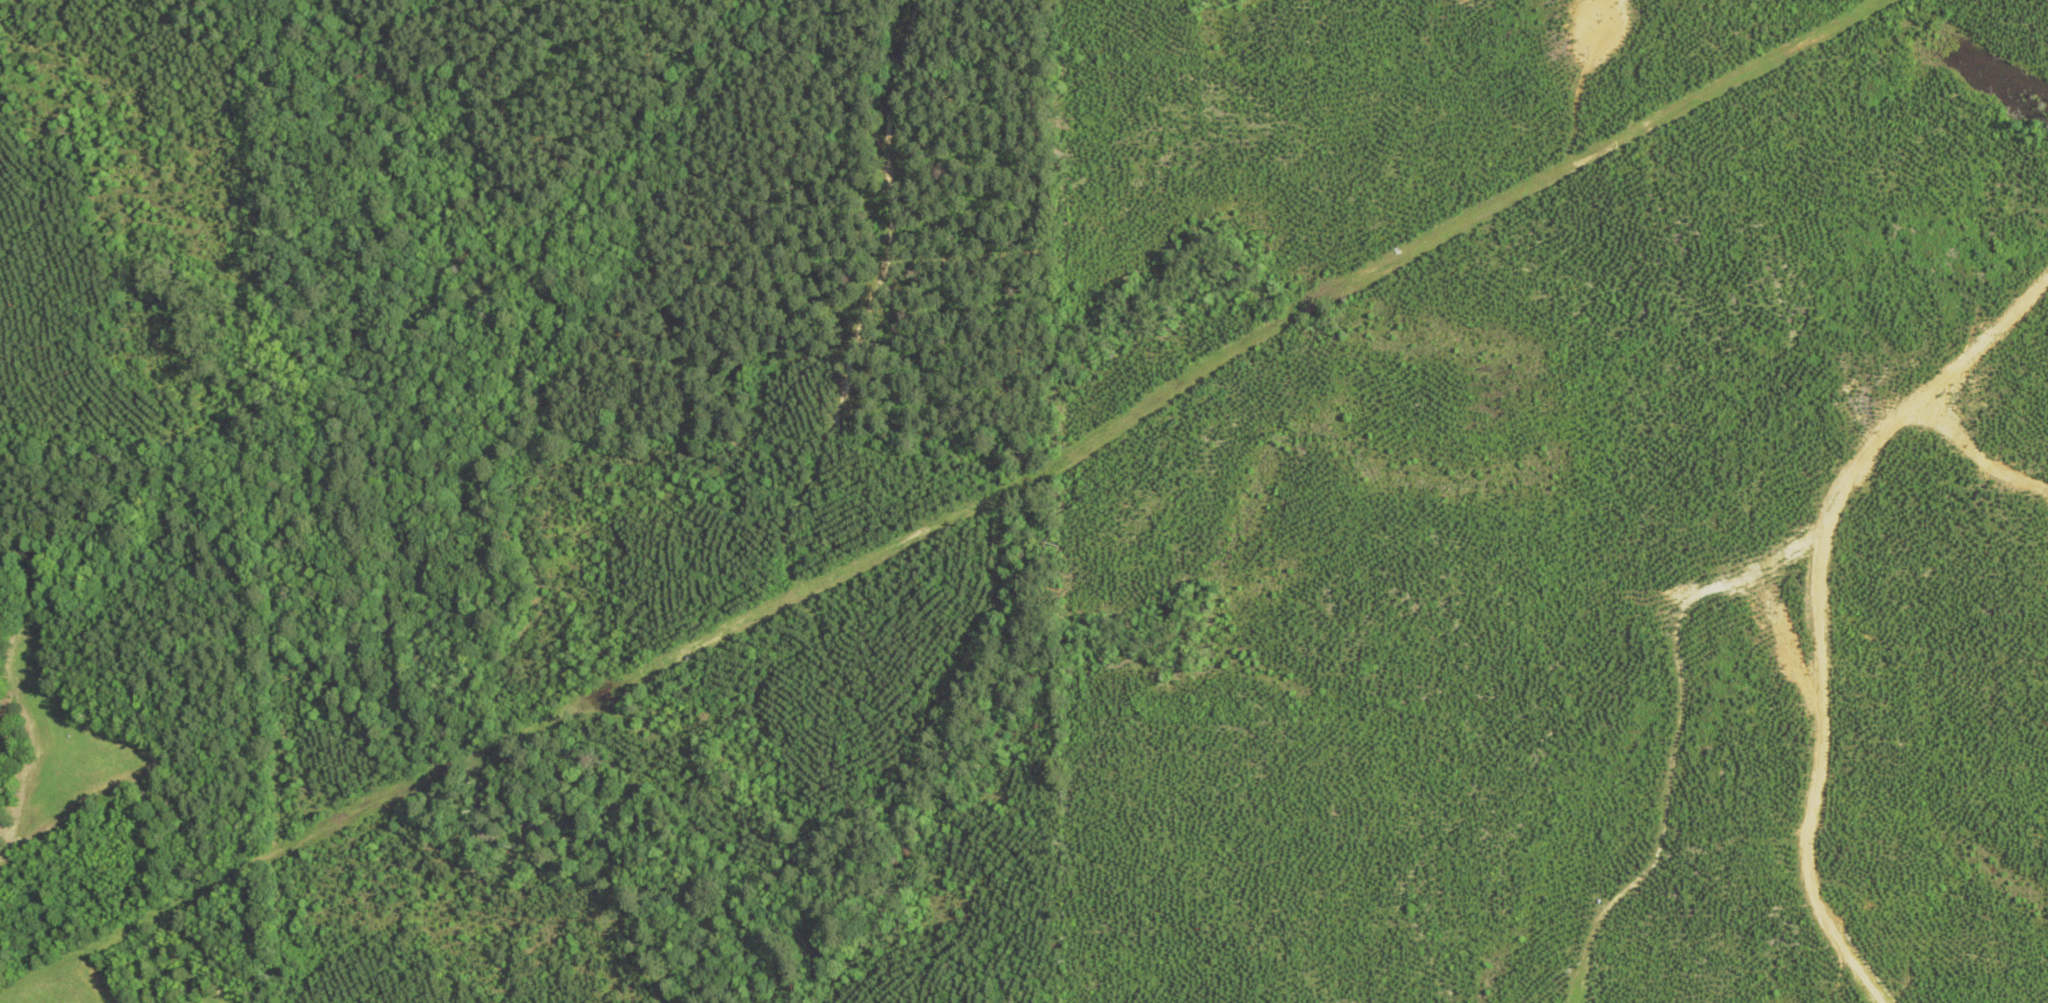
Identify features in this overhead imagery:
road: (1792, 595)

